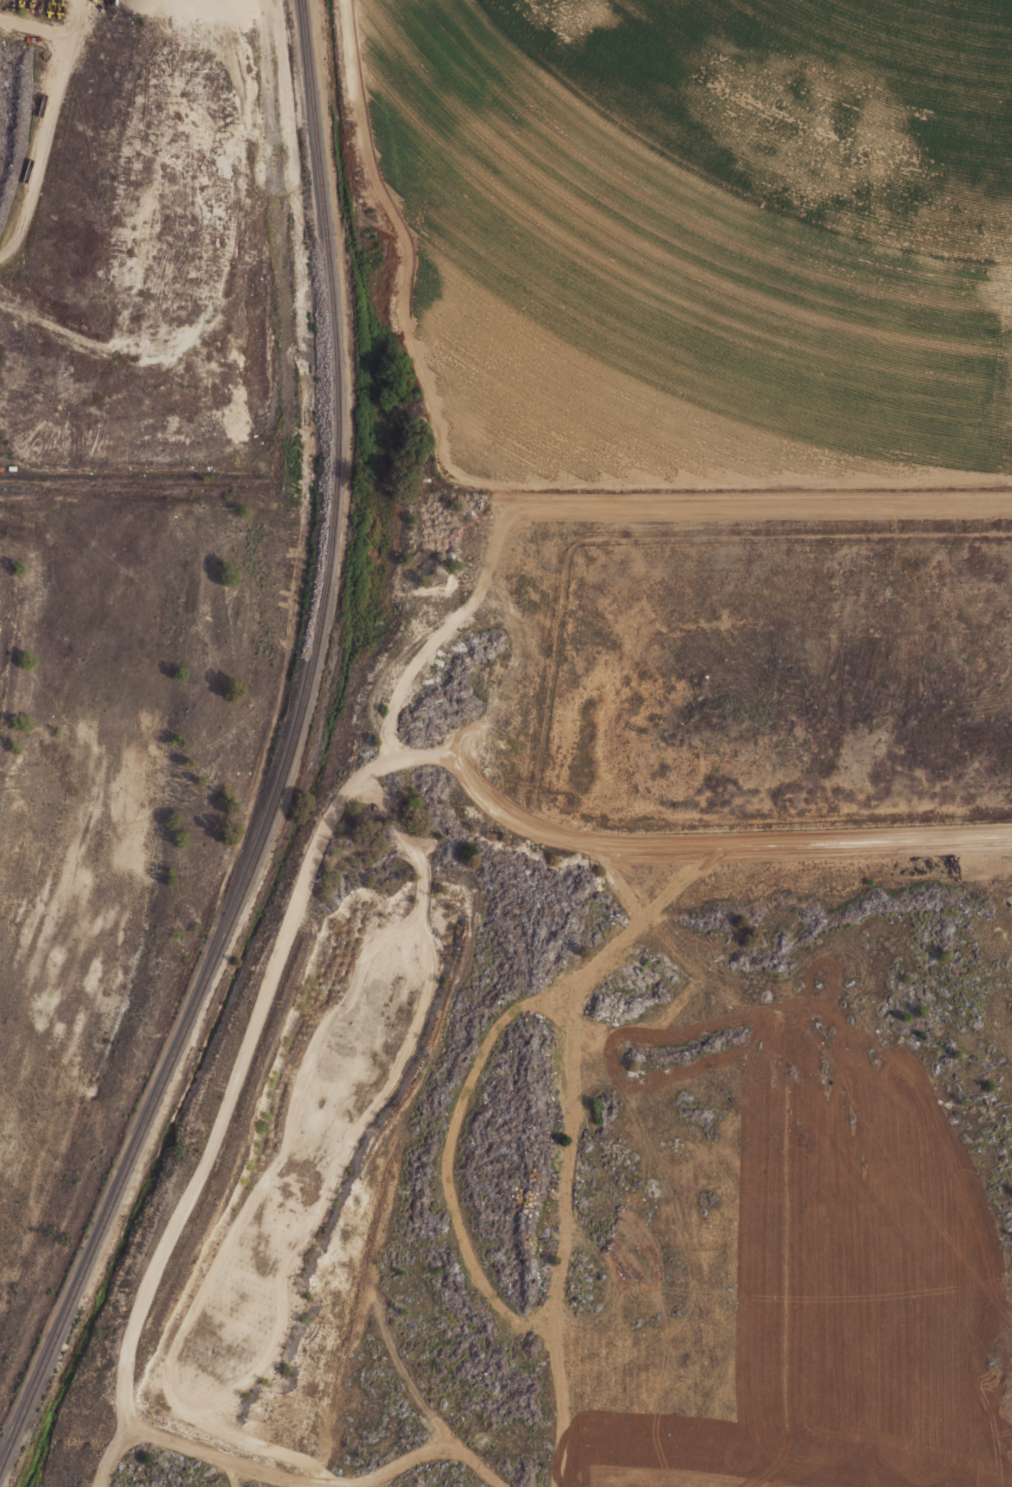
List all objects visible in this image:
road: (37, 26)
railway: (313, 85)
road: (48, 127)
crop: (724, 200)
road: (191, 252)
road: (482, 478)
railway: (323, 634)
road: (728, 847)
railway: (85, 1277)

